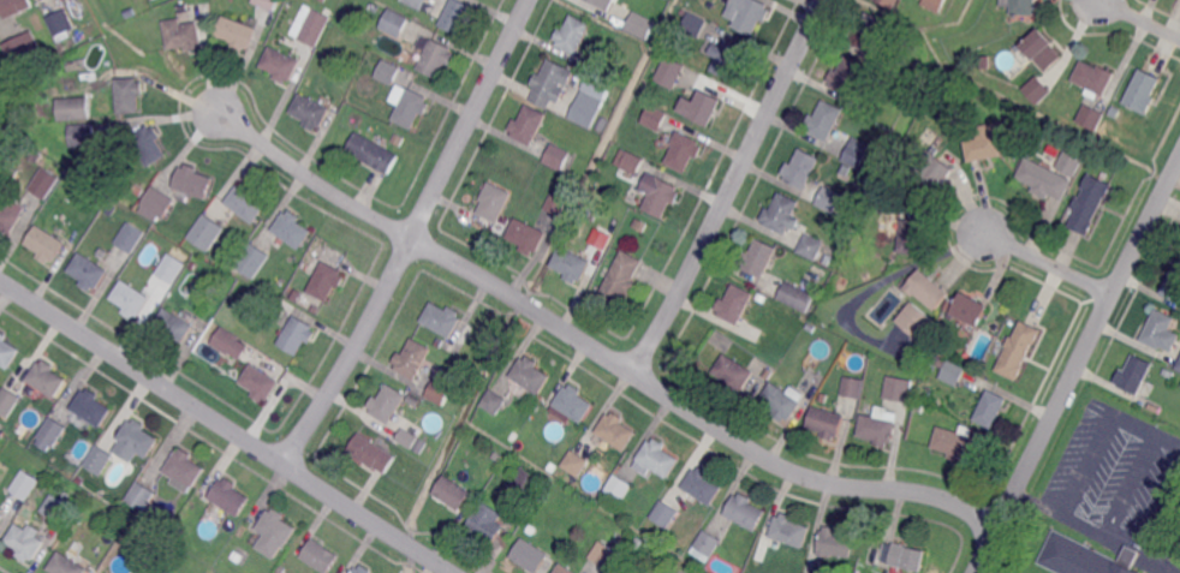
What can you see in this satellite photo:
building: (323, 0)
building: (417, 2)
building: (892, 2)
building: (269, 4)
building: (596, 4)
building: (936, 4)
building: (14, 6)
building: (1021, 6)
building: (183, 7)
building: (374, 8)
building: (745, 13)
building: (455, 16)
road: (1139, 19)
building: (60, 23)
building: (394, 23)
building: (690, 23)
building: (638, 24)
building: (315, 26)
building: (869, 31)
building: (236, 32)
building: (572, 34)
building: (181, 35)
building: (1017, 46)
building: (22, 48)
building: (1043, 48)
building: (434, 56)
building: (726, 56)
building: (985, 60)
building: (918, 61)
building: (280, 64)
building: (586, 70)
building: (668, 71)
building: (388, 72)
building: (848, 74)
building: (865, 78)
building: (1095, 78)
building: (550, 84)
building: (1038, 89)
building: (1143, 90)
building: (129, 94)
building: (411, 107)
building: (705, 107)
building: (586, 108)
building: (73, 111)
building: (310, 111)
building: (1115, 111)
building: (1091, 115)
building: (654, 117)
building: (826, 119)
building: (602, 123)
building: (528, 124)
building: (82, 133)
building: (988, 142)
building: (149, 145)
building: (365, 148)
building: (684, 151)
building: (858, 151)
building: (387, 153)
building: (36, 154)
building: (556, 156)
building: (5, 159)
building: (618, 161)
building: (631, 162)
building: (1069, 163)
building: (803, 168)
building: (934, 174)
building: (192, 180)
building: (1044, 180)
building: (44, 184)
road: (731, 187)
building: (660, 196)
building: (829, 198)
building: (493, 201)
building: (157, 202)
building: (245, 202)
building: (1090, 202)
building: (556, 203)
building: (112, 208)
building: (10, 213)
building: (781, 213)
building: (591, 214)
building: (640, 225)
building: (292, 229)
building: (205, 232)
road: (411, 235)
building: (525, 235)
building: (912, 235)
building: (130, 237)
building: (598, 237)
building: (46, 244)
building: (811, 246)
building: (103, 252)
building: (759, 257)
building: (252, 258)
building: (827, 258)
road: (1048, 262)
building: (571, 263)
building: (191, 264)
building: (171, 268)
building: (88, 270)
building: (621, 277)
building: (327, 280)
building: (1173, 286)
building: (928, 288)
building: (792, 293)
building: (297, 294)
building: (761, 297)
building: (131, 298)
building: (734, 304)
building: (949, 304)
building: (315, 308)
building: (971, 309)
building: (442, 318)
building: (916, 321)
building: (173, 327)
building: (812, 327)
building: (1161, 330)
building: (297, 335)
building: (225, 340)
road: (596, 350)
building: (7, 351)
building: (455, 351)
building: (1019, 351)
building: (412, 358)
road: (1077, 364)
building: (1178, 365)
building: (950, 371)
building: (1168, 371)
building: (733, 372)
building: (530, 374)
building: (767, 376)
building: (47, 377)
building: (1137, 377)
building: (260, 382)
building: (852, 387)
building: (898, 388)
building: (439, 393)
building: (411, 398)
building: (8, 400)
building: (781, 400)
building: (494, 401)
building: (387, 402)
building: (574, 402)
building: (919, 405)
building: (91, 406)
building: (866, 407)
building: (990, 408)
building: (826, 422)
road: (1101, 424)
building: (1, 425)
road: (226, 426)
building: (878, 426)
building: (52, 430)
building: (616, 430)
building: (138, 436)
building: (406, 437)
building: (513, 437)
building: (520, 442)
building: (419, 444)
building: (960, 444)
building: (371, 453)
building: (656, 458)
building: (100, 459)
building: (576, 462)
building: (183, 470)
building: (528, 482)
building: (25, 484)
road: (1131, 484)
building: (702, 485)
building: (588, 487)
building: (619, 488)
building: (452, 493)
building: (141, 496)
building: (230, 496)
building: (62, 507)
building: (744, 511)
building: (665, 513)
building: (2, 517)
building: (484, 523)
road: (1164, 526)
building: (788, 529)
road: (1095, 530)
building: (270, 532)
building: (66, 537)
building: (26, 539)
building: (638, 542)
building: (835, 542)
building: (704, 545)
building: (123, 549)
building: (318, 555)
building: (529, 555)
building: (604, 555)
building: (236, 556)
building: (907, 556)
building: (1084, 556)
building: (66, 565)
building: (362, 569)
building: (565, 569)
building: (658, 571)

